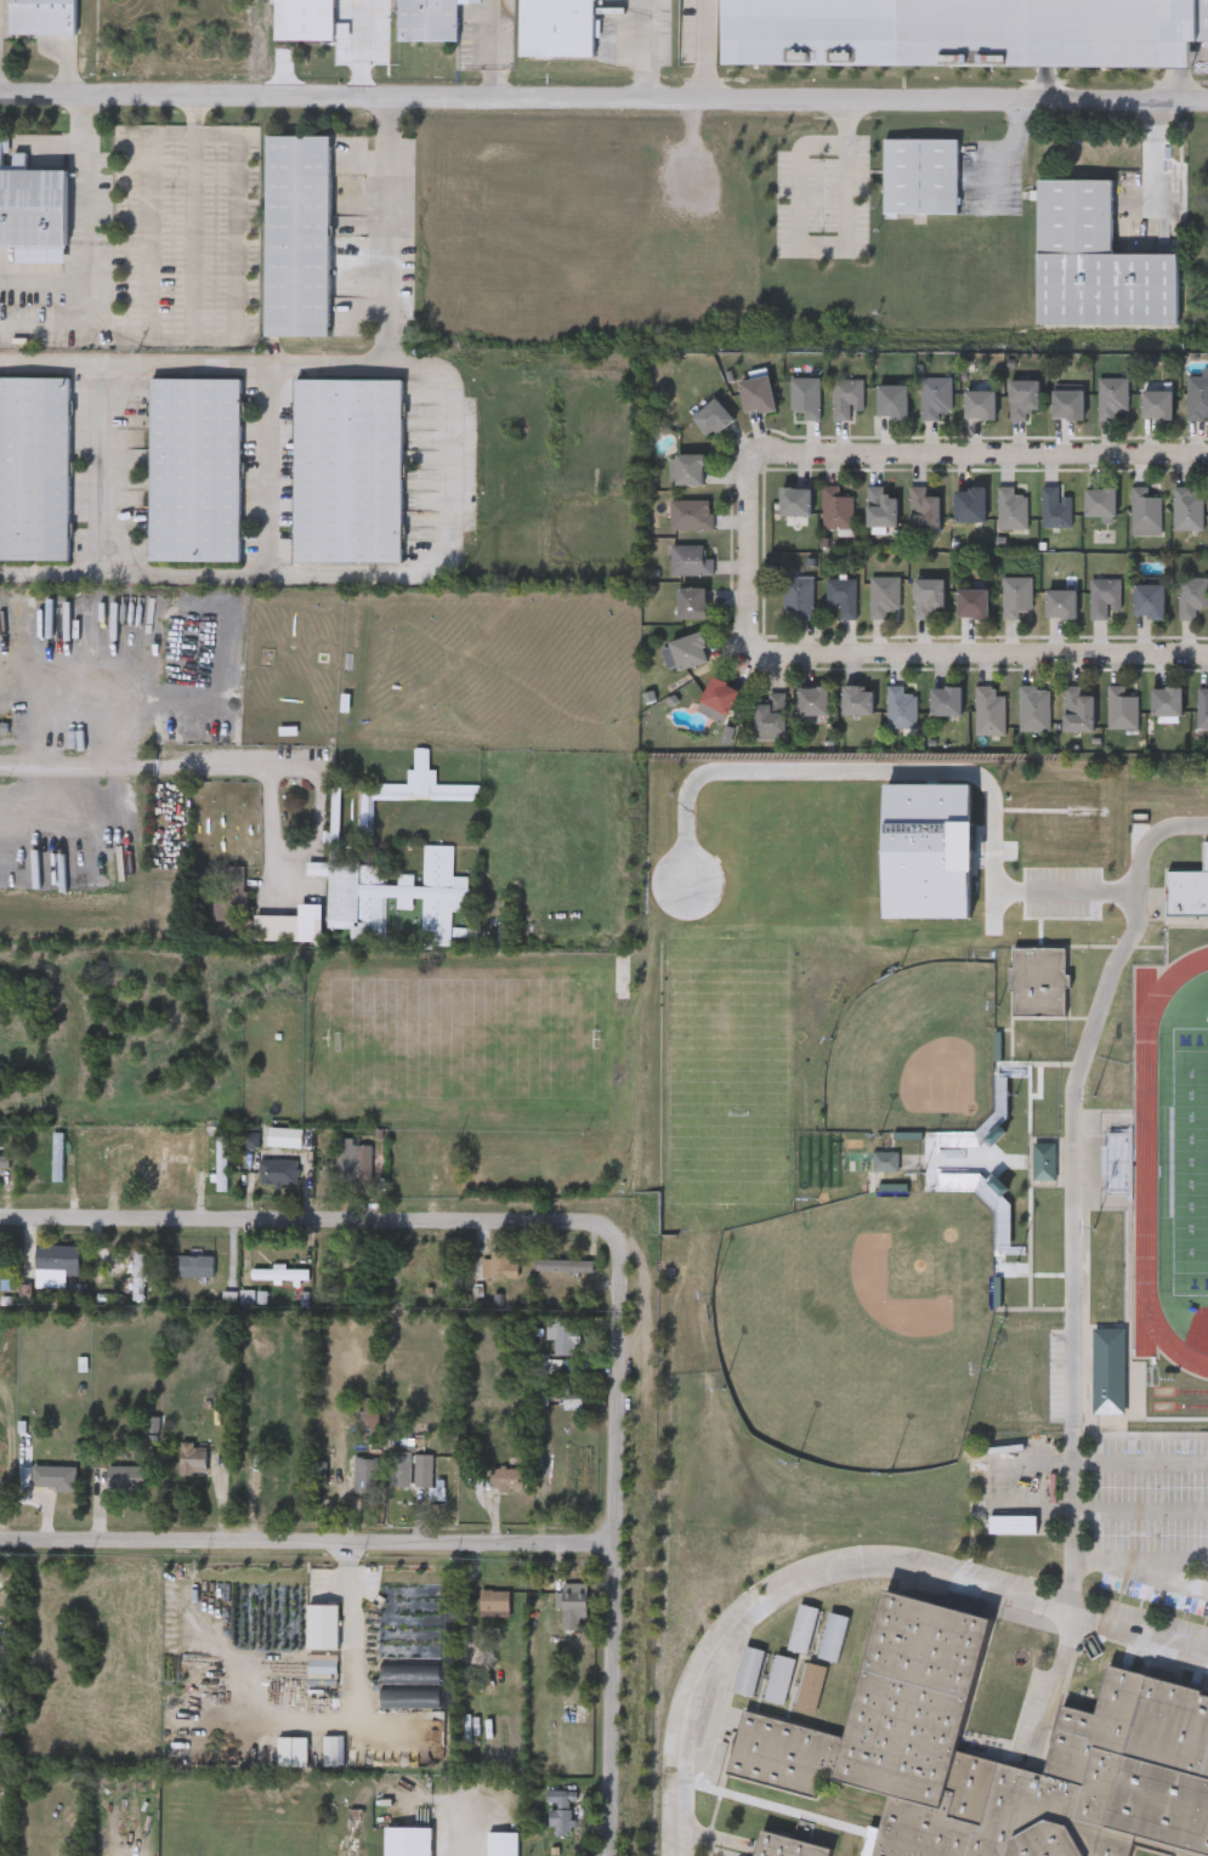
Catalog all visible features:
building: (45, 16)
building: (310, 19)
building: (427, 19)
building: (557, 27)
building: (965, 32)
road: (494, 46)
road: (645, 47)
road: (708, 47)
road: (603, 95)
building: (920, 175)
building: (33, 208)
road: (800, 221)
road: (389, 229)
building: (299, 233)
road: (84, 251)
building: (1096, 262)
road: (41, 279)
road: (115, 340)
road: (174, 340)
road: (376, 365)
building: (756, 395)
building: (1198, 396)
building: (806, 397)
building: (937, 397)
building: (1113, 397)
building: (847, 398)
building: (1023, 398)
building: (892, 402)
building: (980, 404)
building: (1068, 404)
building: (1157, 404)
road: (102, 418)
building: (713, 419)
road: (983, 461)
building: (35, 466)
building: (197, 469)
road: (268, 469)
building: (350, 469)
building: (687, 470)
building: (795, 503)
building: (1101, 503)
building: (970, 505)
building: (1057, 507)
building: (838, 509)
building: (880, 509)
building: (1013, 509)
building: (1190, 509)
building: (924, 511)
building: (1147, 512)
building: (692, 515)
building: (691, 560)
road: (212, 572)
building: (884, 596)
building: (1017, 596)
building: (799, 597)
building: (843, 597)
building: (928, 597)
building: (1105, 597)
building: (1192, 597)
building: (1149, 602)
building: (692, 603)
building: (972, 603)
building: (1062, 603)
building: (690, 651)
road: (886, 660)
building: (719, 697)
building: (858, 700)
building: (813, 702)
building: (946, 702)
building: (1167, 702)
building: (902, 708)
building: (1036, 708)
building: (1123, 708)
building: (1203, 708)
building: (991, 710)
building: (1078, 710)
building: (771, 716)
road: (131, 766)
road: (913, 766)
building: (410, 789)
road: (317, 824)
building: (401, 890)
building: (227, 891)
building: (1189, 892)
building: (287, 925)
building: (623, 977)
building: (1039, 980)
park: (915, 1051)
building: (365, 1151)
building: (58, 1153)
building: (344, 1156)
building: (1119, 1157)
building: (5, 1158)
park: (1190, 1159)
building: (222, 1160)
track: (1156, 1160)
building: (1045, 1162)
building: (887, 1163)
building: (154, 1164)
building: (279, 1170)
road: (1072, 1187)
road: (314, 1216)
building: (57, 1256)
building: (566, 1262)
building: (195, 1264)
building: (499, 1264)
building: (351, 1266)
building: (0, 1273)
building: (140, 1273)
building: (280, 1273)
building: (588, 1298)
park: (860, 1323)
building: (566, 1334)
building: (1110, 1370)
building: (540, 1381)
road: (1030, 1455)
building: (194, 1457)
road: (1140, 1457)
building: (280, 1468)
building: (402, 1469)
building: (368, 1472)
building: (55, 1474)
building: (426, 1474)
building: (130, 1475)
building: (507, 1476)
road: (1140, 1509)
road: (308, 1542)
road: (619, 1545)
road: (1168, 1560)
road: (1140, 1572)
road: (851, 1574)
road: (348, 1589)
building: (495, 1599)
building: (574, 1605)
building: (804, 1625)
building: (834, 1634)
building: (750, 1668)
building: (781, 1675)
building: (811, 1685)
road: (1054, 1688)
building: (1133, 1724)
building: (562, 1810)
building: (806, 1828)
road: (460, 1834)
building: (407, 1839)
building: (501, 1841)
building: (788, 1845)
building: (74, 1854)

